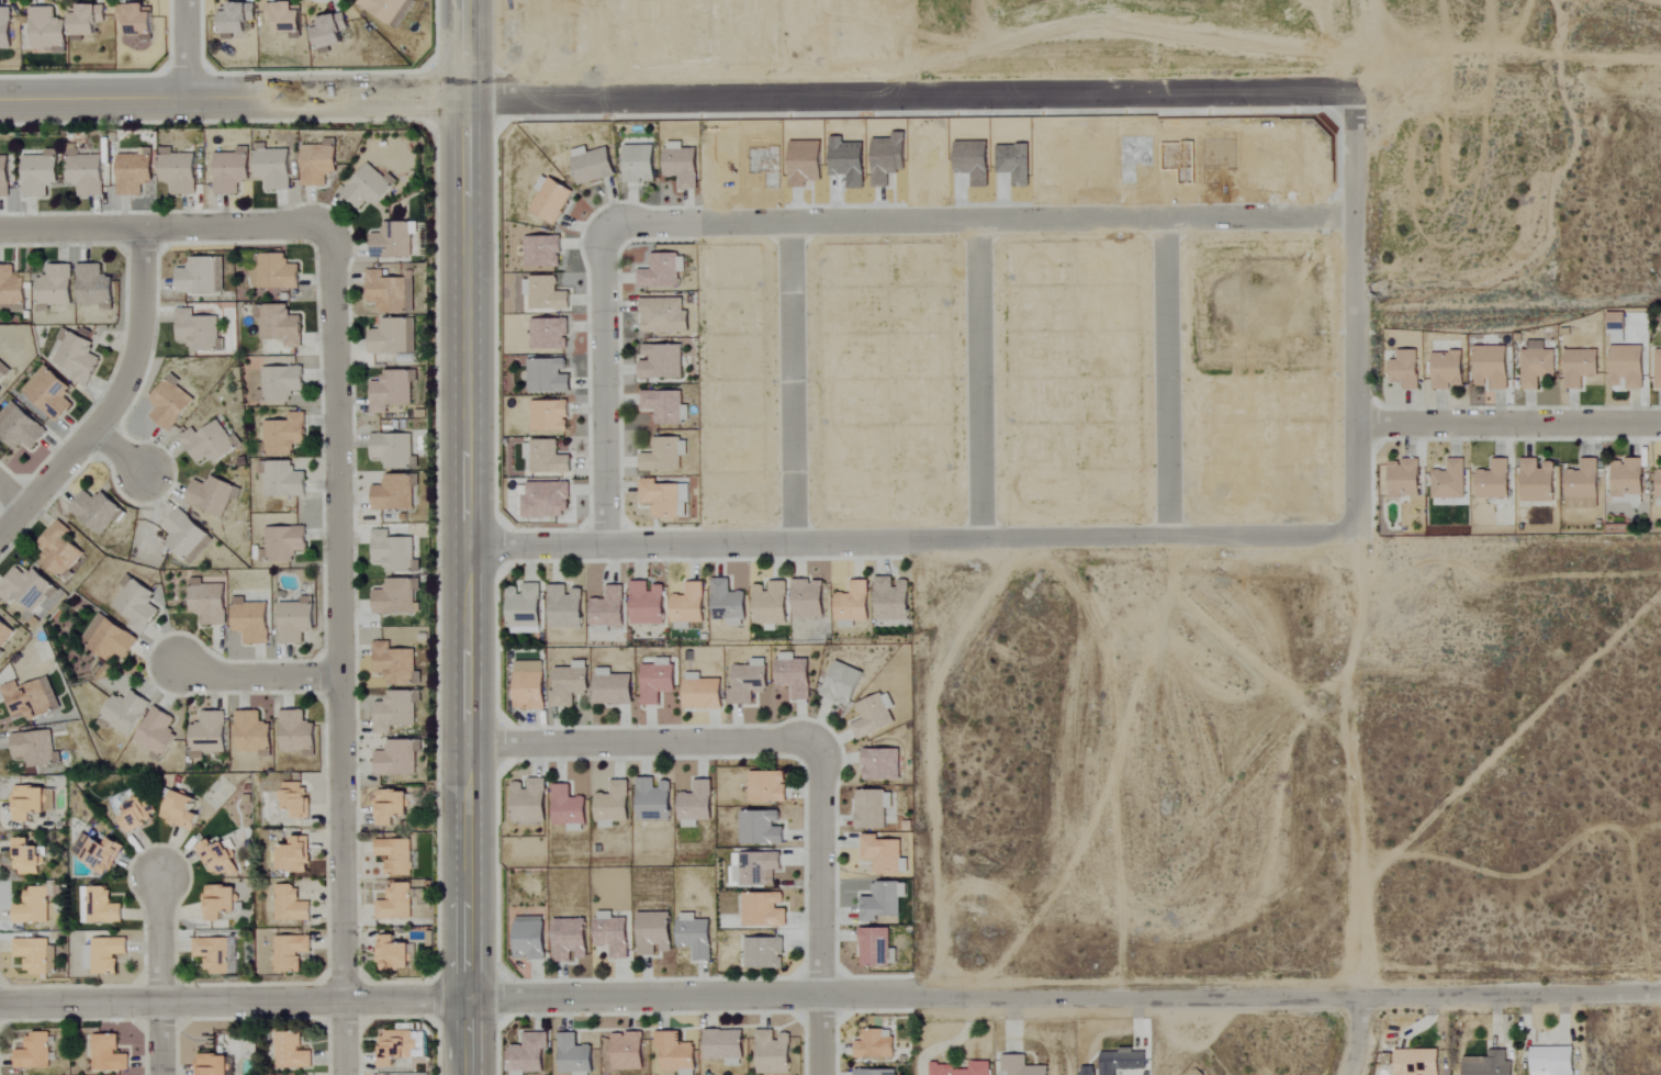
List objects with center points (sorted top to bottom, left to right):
building: (384, 10)
building: (280, 18)
building: (82, 20)
building: (134, 20)
road: (1323, 22)
building: (3, 27)
building: (43, 30)
building: (325, 31)
road: (190, 52)
road: (832, 82)
road: (1351, 130)
building: (315, 161)
building: (636, 163)
building: (588, 164)
building: (677, 164)
building: (269, 166)
building: (227, 169)
building: (175, 170)
building: (81, 171)
building: (131, 171)
building: (35, 173)
building: (366, 186)
building: (548, 200)
road: (979, 223)
road: (170, 227)
building: (389, 239)
building: (538, 250)
building: (660, 270)
building: (274, 271)
building: (198, 275)
building: (90, 285)
building: (50, 287)
building: (10, 291)
building: (386, 291)
building: (543, 292)
building: (661, 314)
building: (1614, 321)
building: (278, 324)
building: (195, 329)
building: (546, 333)
building: (390, 336)
building: (74, 357)
building: (659, 360)
building: (1535, 363)
building: (1489, 366)
building: (1624, 366)
building: (1578, 367)
building: (1403, 368)
building: (1657, 368)
building: (2, 369)
building: (1446, 369)
building: (545, 374)
road: (1359, 374)
building: (278, 382)
road: (978, 383)
road: (793, 385)
road: (604, 388)
building: (389, 389)
building: (45, 392)
road: (119, 399)
building: (167, 402)
building: (663, 405)
building: (546, 414)
road: (1511, 421)
building: (18, 427)
building: (281, 434)
building: (207, 441)
road: (122, 448)
building: (391, 449)
building: (662, 453)
building: (542, 457)
building: (1401, 477)
building: (1625, 478)
building: (280, 479)
building: (1446, 480)
building: (1491, 480)
building: (1535, 480)
building: (1580, 484)
building: (1657, 488)
road: (12, 491)
building: (392, 492)
building: (209, 494)
building: (662, 497)
building: (542, 499)
building: (93, 511)
building: (183, 536)
road: (463, 537)
building: (281, 542)
road: (910, 542)
building: (56, 549)
building: (391, 551)
building: (24, 587)
building: (393, 596)
building: (804, 597)
building: (888, 598)
building: (643, 602)
building: (725, 603)
building: (766, 604)
building: (849, 604)
building: (134, 605)
building: (562, 606)
building: (684, 606)
building: (520, 608)
building: (605, 609)
road: (1158, 609)
building: (292, 619)
building: (247, 620)
building: (3, 632)
building: (105, 639)
building: (0, 652)
road: (340, 659)
building: (392, 663)
building: (789, 674)
road: (258, 678)
building: (654, 680)
building: (745, 682)
building: (839, 682)
building: (568, 683)
building: (526, 684)
building: (609, 686)
building: (698, 692)
building: (27, 698)
building: (392, 710)
building: (121, 712)
building: (871, 715)
building: (151, 732)
building: (249, 732)
building: (293, 732)
building: (204, 734)
road: (641, 746)
building: (32, 748)
building: (394, 758)
road: (1353, 762)
building: (878, 763)
building: (764, 786)
building: (291, 798)
building: (650, 799)
building: (526, 800)
building: (24, 802)
building: (693, 804)
building: (609, 805)
building: (388, 806)
building: (564, 808)
building: (869, 808)
building: (177, 810)
building: (133, 813)
building: (757, 827)
building: (93, 852)
building: (882, 854)
building: (289, 855)
building: (394, 856)
building: (22, 858)
building: (215, 858)
road: (819, 869)
building: (880, 900)
building: (216, 902)
building: (393, 903)
building: (287, 904)
building: (96, 906)
building: (29, 907)
building: (762, 909)
building: (651, 932)
building: (609, 933)
building: (693, 934)
building: (527, 938)
building: (568, 939)
building: (874, 947)
building: (287, 951)
building: (761, 952)
building: (100, 953)
building: (390, 953)
building: (33, 954)
building: (214, 954)
road: (161, 973)
road: (1064, 995)
road: (234, 1001)
road: (821, 1034)
road: (1356, 1034)
building: (872, 1044)
building: (397, 1045)
building: (721, 1046)
building: (31, 1051)
building: (289, 1051)
building: (624, 1051)
building: (770, 1052)
building: (672, 1053)
building: (104, 1054)
building: (571, 1055)
building: (1549, 1061)
building: (1414, 1062)
building: (1114, 1063)
building: (209, 1064)
building: (1485, 1064)
building: (939, 1065)
building: (1018, 1066)
building: (872, 1072)

